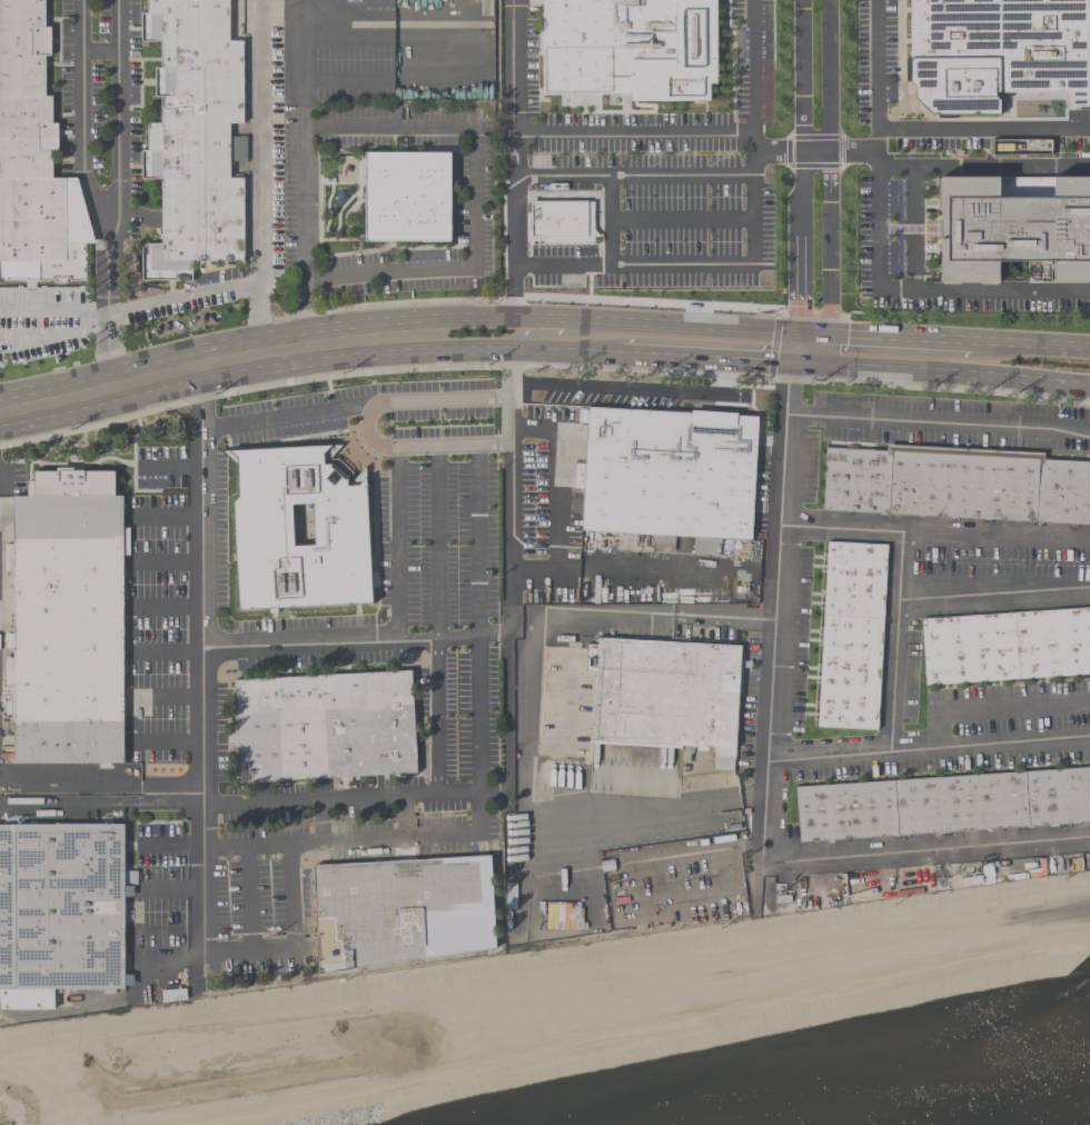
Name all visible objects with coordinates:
road: (99, 48)
building: (630, 48)
building: (997, 52)
road: (802, 76)
road: (829, 76)
road: (118, 126)
road: (81, 127)
road: (633, 130)
road: (984, 130)
building: (194, 137)
road: (260, 141)
road: (779, 151)
road: (815, 151)
road: (854, 151)
road: (511, 158)
building: (33, 160)
road: (1001, 166)
road: (299, 173)
road: (633, 178)
road: (476, 191)
building: (407, 197)
road: (913, 215)
building: (557, 218)
road: (611, 221)
road: (682, 223)
building: (1012, 229)
road: (801, 241)
road: (829, 242)
road: (876, 246)
road: (753, 253)
road: (217, 291)
road: (108, 320)
road: (608, 320)
road: (53, 326)
traffic signals: (800, 331)
road: (813, 332)
road: (553, 333)
traffic signals: (828, 333)
road: (900, 337)
road: (1030, 342)
road: (799, 347)
road: (828, 349)
road: (519, 351)
road: (711, 358)
traffic signals: (799, 362)
traffic signals: (828, 365)
road: (210, 367)
road: (944, 371)
road: (632, 386)
road: (353, 400)
road: (938, 424)
road: (415, 444)
road: (169, 470)
road: (549, 479)
building: (661, 480)
building: (955, 486)
road: (163, 516)
building: (299, 529)
road: (934, 531)
road: (439, 541)
road: (476, 541)
road: (396, 542)
road: (162, 561)
road: (777, 562)
road: (642, 565)
road: (506, 573)
road: (995, 595)
road: (163, 605)
building: (69, 619)
building: (851, 636)
road: (353, 643)
building: (1005, 645)
road: (165, 647)
road: (200, 663)
building: (666, 694)
road: (163, 696)
road: (896, 707)
road: (1000, 711)
road: (476, 717)
road: (437, 718)
road: (526, 718)
building: (326, 726)
road: (165, 740)
road: (991, 746)
road: (62, 780)
road: (354, 799)
building: (943, 804)
road: (100, 805)
road: (355, 836)
road: (169, 845)
road: (875, 855)
road: (169, 889)
road: (248, 896)
building: (59, 910)
building: (403, 910)
road: (162, 933)
road: (289, 936)
river: (968, 1098)

